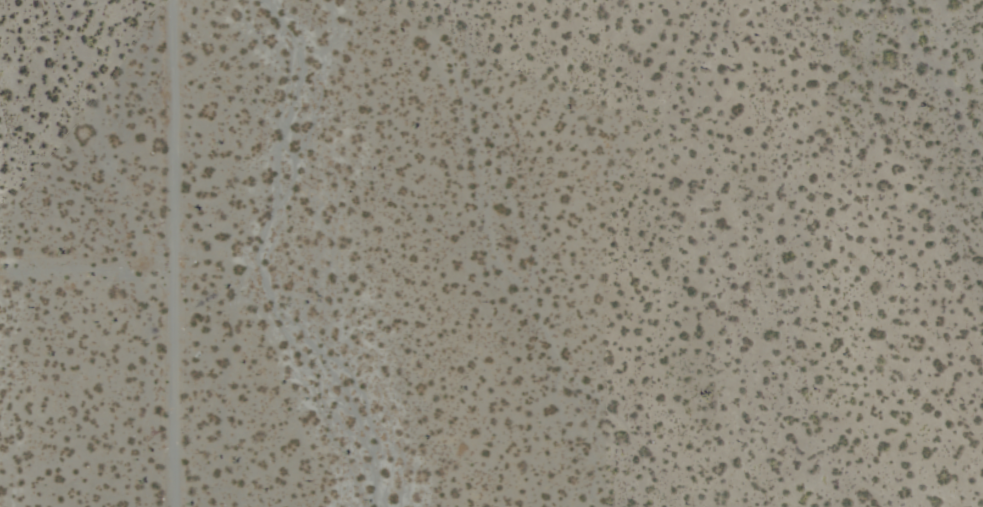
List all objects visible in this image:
road: (173, 253)

